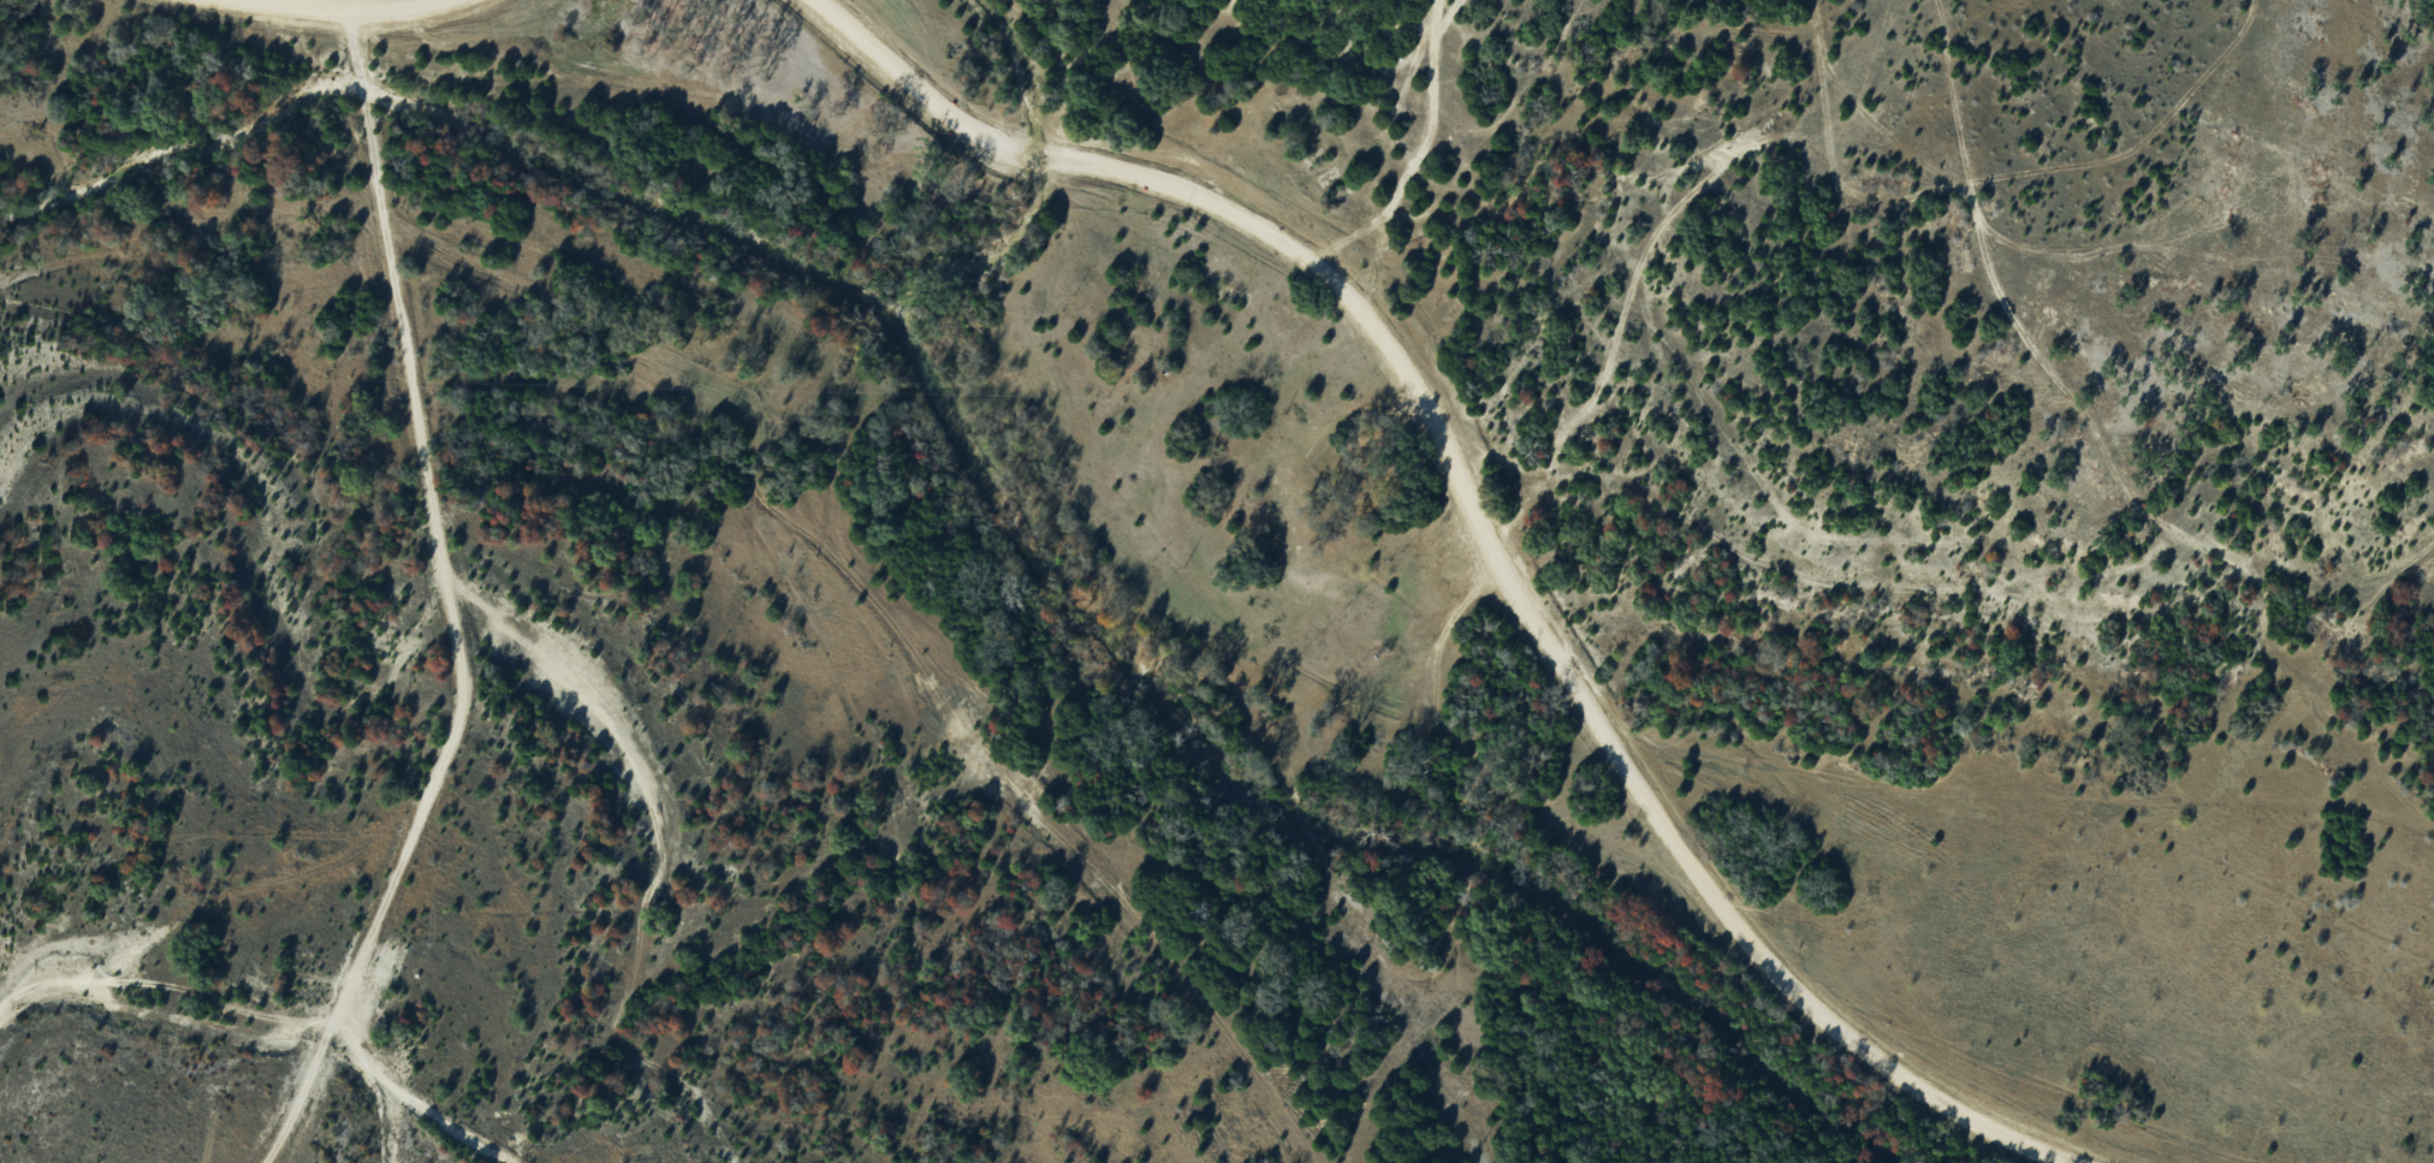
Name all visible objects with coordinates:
road: (352, 18)
road: (1482, 517)

